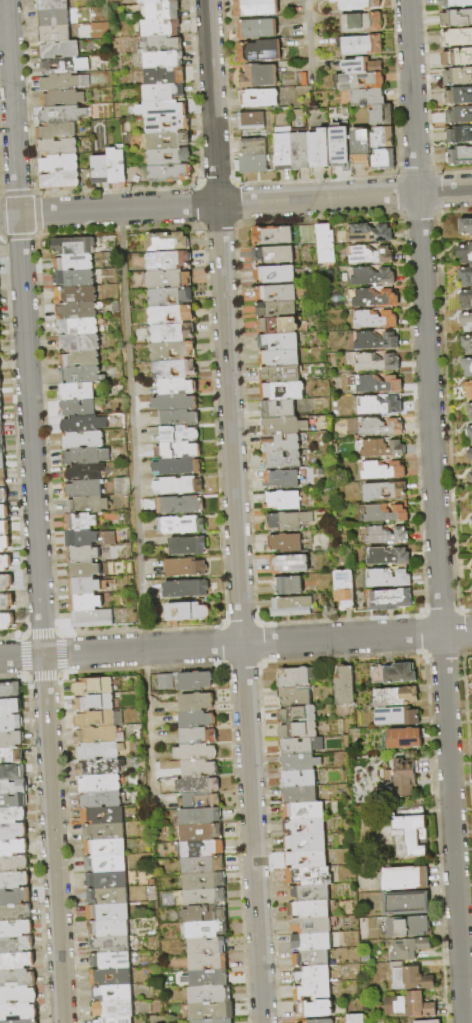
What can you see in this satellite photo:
building: (159, 2)
building: (352, 4)
building: (454, 4)
building: (52, 5)
building: (253, 8)
building: (161, 11)
building: (53, 18)
building: (455, 19)
building: (356, 23)
building: (162, 28)
building: (254, 30)
building: (53, 34)
building: (456, 38)
road: (308, 41)
building: (163, 44)
building: (357, 45)
building: (60, 50)
building: (255, 51)
building: (456, 57)
building: (164, 60)
building: (63, 65)
building: (357, 66)
building: (166, 76)
building: (257, 76)
building: (457, 77)
building: (355, 81)
building: (63, 82)
building: (165, 92)
building: (457, 96)
building: (362, 97)
building: (61, 98)
building: (256, 98)
building: (163, 109)
building: (61, 114)
building: (376, 115)
building: (458, 116)
building: (249, 121)
building: (156, 125)
building: (56, 131)
building: (459, 135)
building: (377, 137)
building: (182, 141)
building: (57, 146)
building: (251, 147)
building: (356, 147)
building: (314, 148)
building: (335, 149)
building: (278, 151)
building: (294, 151)
building: (158, 157)
building: (458, 157)
building: (378, 160)
building: (58, 163)
building: (251, 165)
building: (118, 166)
building: (102, 170)
building: (170, 173)
building: (58, 180)
road: (236, 204)
building: (464, 226)
building: (365, 233)
building: (304, 234)
building: (282, 236)
building: (168, 242)
building: (322, 244)
building: (74, 246)
building: (272, 254)
building: (464, 254)
building: (365, 255)
building: (169, 261)
building: (74, 263)
building: (273, 274)
building: (367, 276)
building: (465, 277)
building: (74, 278)
building: (169, 279)
building: (283, 294)
building: (75, 295)
building: (172, 297)
building: (368, 297)
building: (465, 300)
building: (78, 311)
building: (284, 311)
building: (0, 315)
building: (172, 315)
building: (369, 319)
building: (466, 322)
building: (78, 326)
building: (286, 326)
building: (174, 333)
building: (0, 335)
building: (370, 341)
building: (79, 342)
building: (286, 343)
building: (467, 345)
building: (174, 351)
building: (287, 358)
building: (80, 359)
building: (371, 362)
building: (0, 366)
building: (467, 368)
building: (175, 370)
building: (81, 375)
building: (277, 375)
building: (1, 382)
building: (370, 383)
building: (179, 387)
building: (468, 390)
building: (77, 391)
building: (280, 391)
building: (1, 398)
building: (176, 403)
building: (374, 405)
building: (78, 408)
building: (276, 409)
building: (468, 411)
building: (1, 412)
building: (181, 418)
building: (84, 424)
building: (281, 426)
building: (374, 427)
building: (1, 429)
building: (176, 433)
building: (469, 434)
building: (83, 439)
building: (279, 443)
building: (2, 446)
building: (376, 448)
building: (179, 450)
building: (469, 455)
building: (86, 456)
building: (280, 459)
building: (2, 462)
building: (178, 467)
building: (378, 469)
building: (84, 472)
building: (3, 478)
building: (470, 478)
building: (280, 479)
building: (122, 486)
building: (179, 486)
building: (83, 489)
building: (380, 491)
building: (4, 495)
building: (281, 500)
building: (471, 500)
building: (87, 505)
building: (181, 505)
building: (2, 507)
road: (135, 508)
road: (34, 511)
road: (234, 511)
road: (435, 511)
building: (4, 512)
building: (380, 513)
building: (286, 520)
building: (81, 521)
building: (471, 523)
building: (182, 525)
building: (5, 528)
building: (381, 535)
building: (89, 537)
building: (283, 543)
building: (5, 544)
building: (189, 546)
building: (83, 554)
building: (383, 556)
building: (5, 563)
building: (287, 564)
building: (186, 568)
building: (84, 571)
building: (383, 578)
building: (6, 582)
building: (286, 585)
building: (85, 586)
building: (187, 589)
building: (339, 589)
building: (386, 599)
building: (6, 603)
building: (86, 603)
building: (289, 606)
building: (188, 612)
building: (92, 619)
building: (7, 622)
road: (236, 644)
building: (395, 674)
building: (297, 677)
building: (196, 681)
building: (165, 682)
building: (94, 686)
building: (346, 686)
building: (10, 691)
building: (296, 696)
building: (397, 697)
building: (198, 702)
building: (95, 703)
building: (10, 707)
building: (298, 715)
building: (398, 717)
building: (100, 719)
building: (198, 719)
building: (11, 724)
building: (299, 731)
building: (99, 735)
building: (199, 736)
building: (12, 740)
building: (405, 740)
building: (302, 746)
building: (101, 751)
building: (197, 752)
building: (11, 756)
building: (301, 763)
building: (101, 767)
building: (200, 768)
building: (12, 773)
building: (299, 779)
building: (401, 779)
building: (100, 783)
building: (199, 785)
building: (14, 787)
building: (300, 795)
building: (101, 799)
building: (14, 801)
building: (200, 801)
building: (305, 811)
building: (12, 815)
building: (114, 817)
building: (201, 817)
building: (316, 828)
building: (13, 831)
building: (115, 832)
building: (412, 832)
building: (202, 833)
building: (294, 843)
building: (13, 848)
building: (116, 848)
building: (204, 849)
building: (318, 861)
building: (14, 864)
building: (117, 865)
building: (204, 865)
building: (323, 876)
building: (407, 878)
building: (14, 880)
building: (107, 880)
building: (205, 881)
building: (310, 893)
building: (15, 897)
building: (119, 897)
building: (206, 897)
building: (407, 904)
building: (310, 909)
building: (15, 913)
building: (120, 913)
building: (204, 914)
building: (313, 925)
building: (408, 927)
building: (110, 928)
building: (16, 929)
building: (207, 929)
building: (313, 941)
building: (16, 945)
building: (111, 945)
building: (208, 946)
building: (411, 949)
building: (312, 958)
building: (112, 961)
building: (17, 962)
building: (209, 962)
building: (313, 974)
building: (18, 978)
building: (122, 978)
building: (411, 978)
building: (207, 979)
building: (315, 991)
building: (124, 993)
building: (18, 995)
building: (211, 995)
building: (411, 1006)
building: (114, 1009)
building: (316, 1009)
building: (212, 1011)
building: (18, 1012)
building: (357, 1018)
building: (115, 1020)
building: (23, 1021)
building: (215, 1021)
building: (320, 1021)
building: (426, 1021)
building: (380, 1022)

